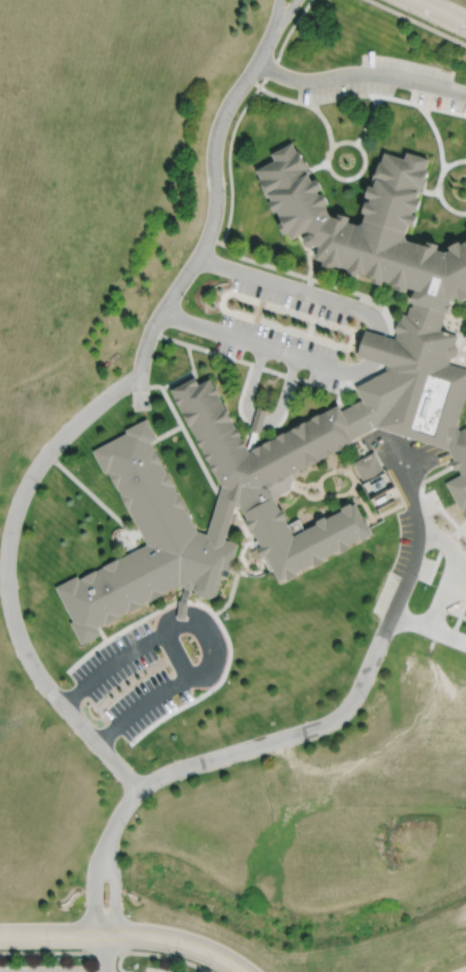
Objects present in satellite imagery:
park: (460, 2)
road: (442, 11)
road: (274, 14)
road: (284, 14)
road: (417, 22)
road: (360, 73)
road: (240, 112)
building: (369, 228)
road: (295, 289)
road: (459, 318)
road: (265, 346)
road: (376, 349)
road: (251, 382)
building: (419, 387)
road: (284, 391)
road: (258, 419)
road: (462, 426)
road: (60, 439)
building: (367, 465)
building: (276, 473)
building: (465, 516)
building: (150, 540)
road: (447, 589)
road: (207, 632)
road: (176, 656)
road: (361, 683)
road: (94, 893)
road: (114, 893)
road: (125, 935)
road: (105, 953)
road: (106, 953)
road: (86, 962)
road: (118, 963)
street lamp: (8, 964)

